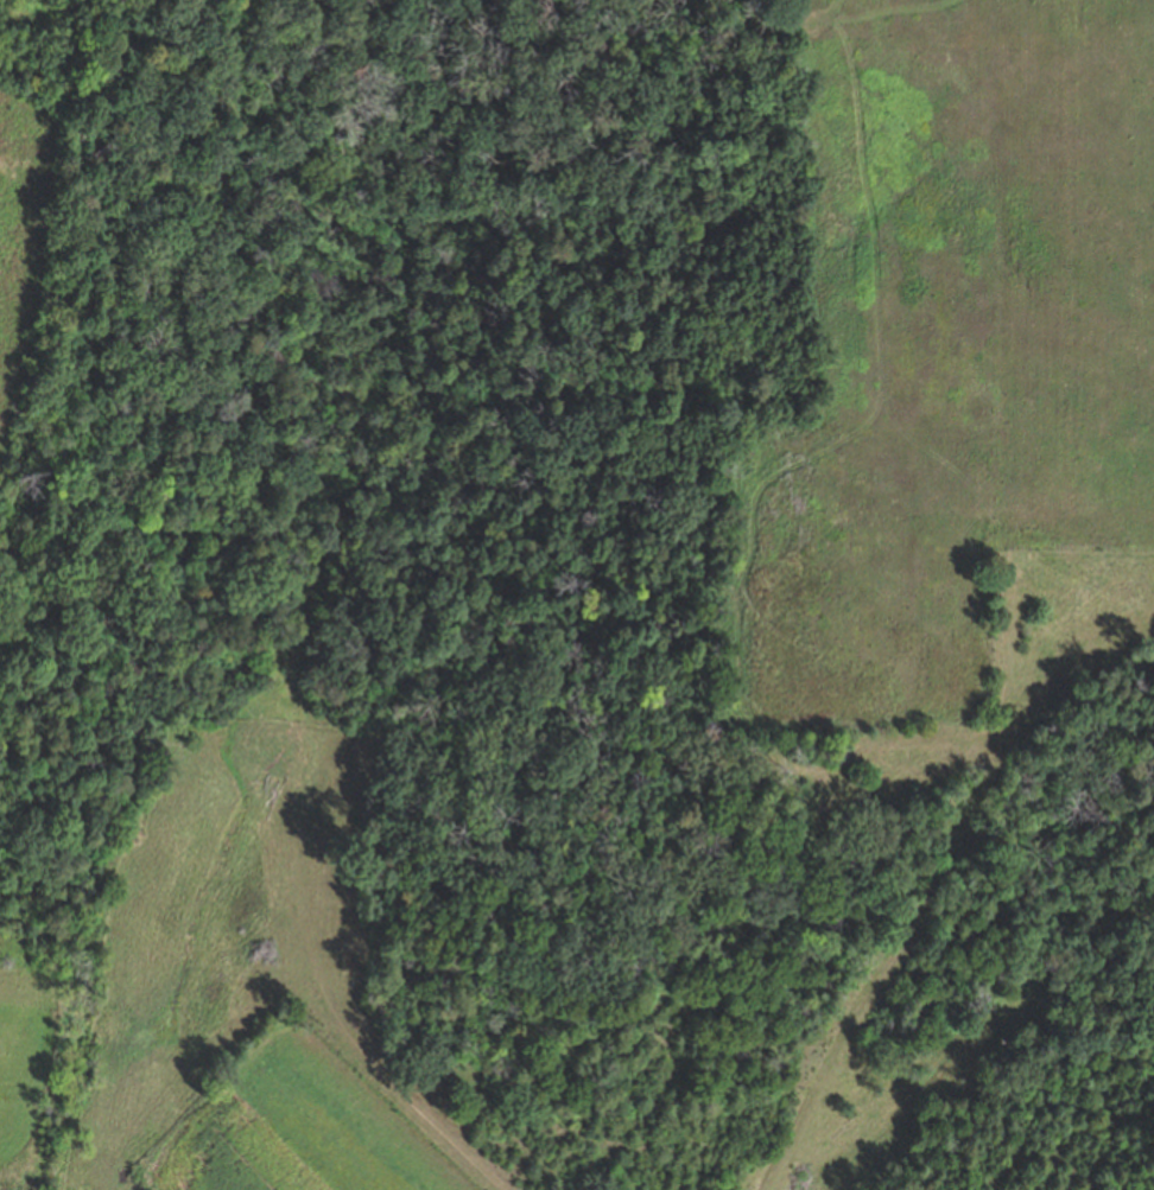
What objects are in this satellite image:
road: (311, 764)

